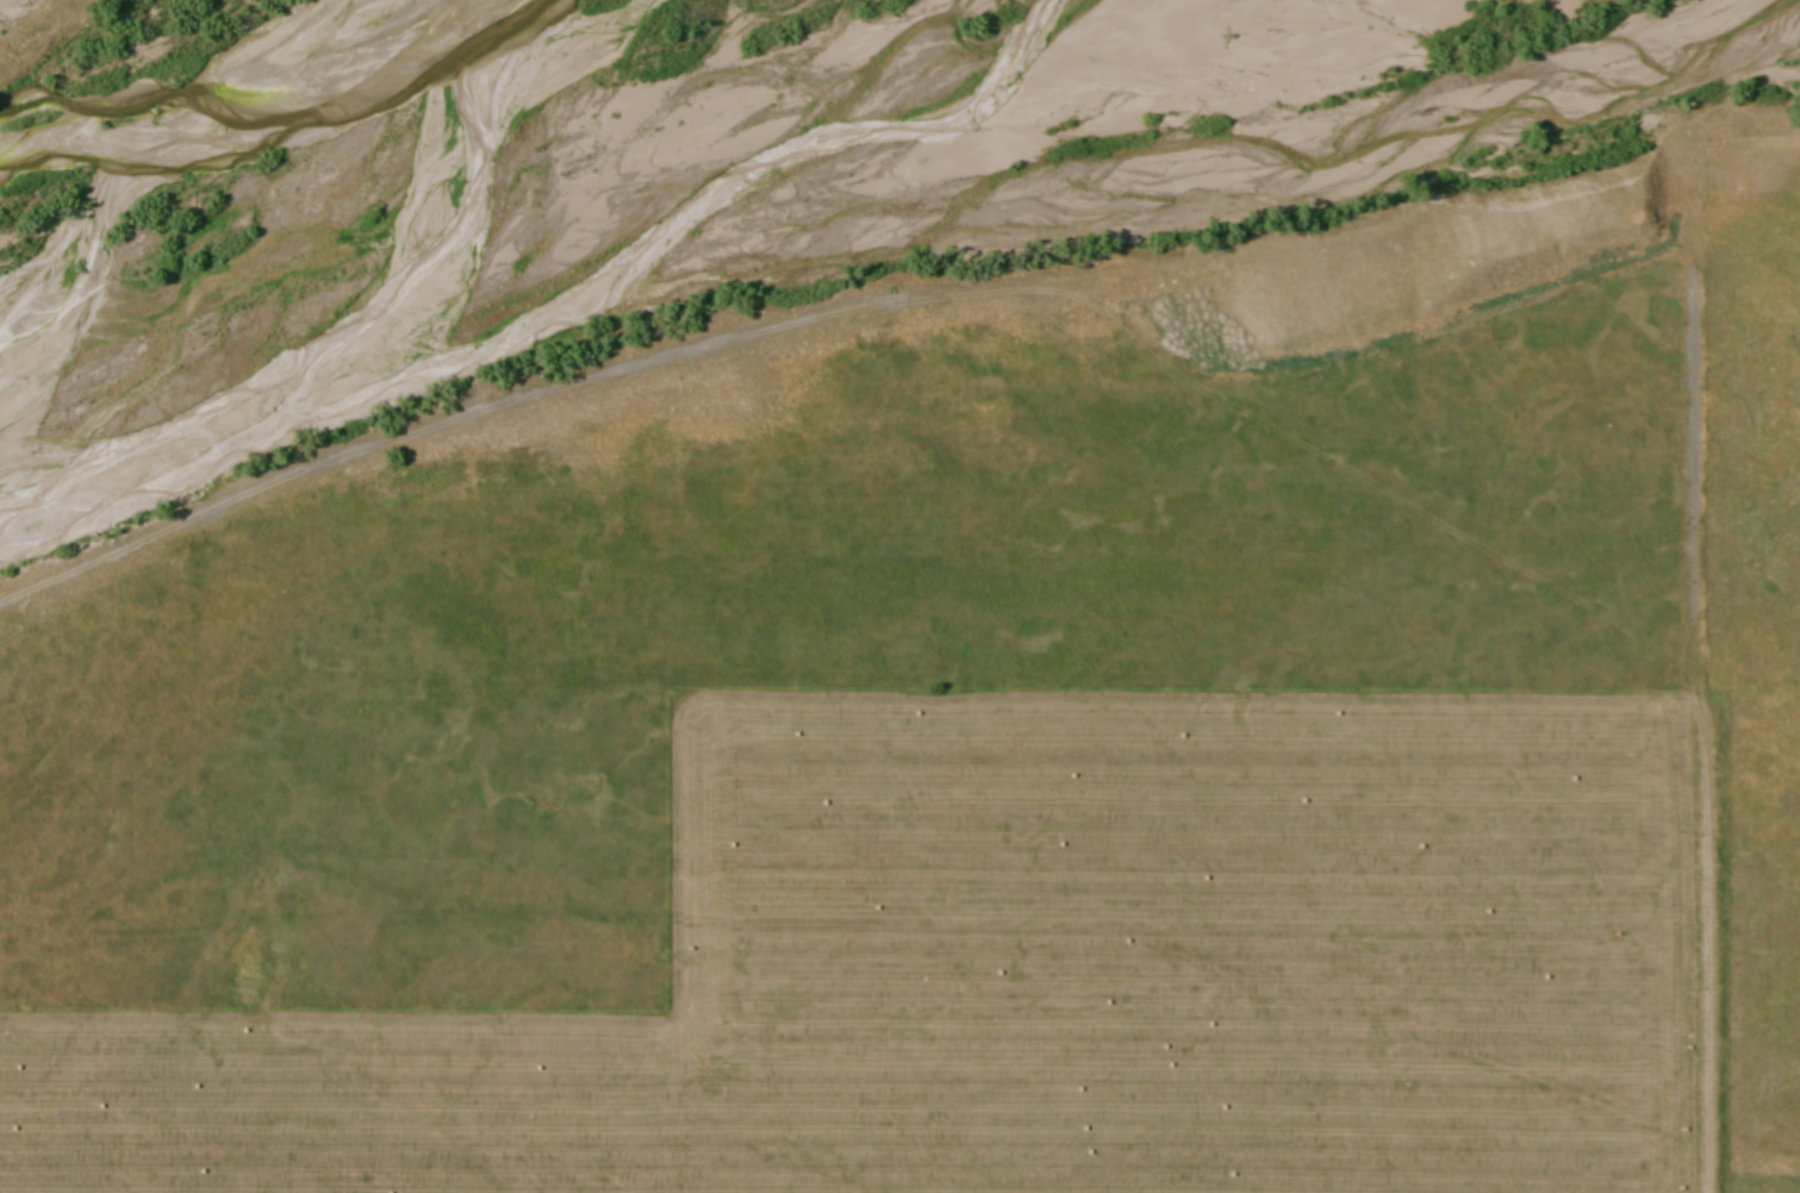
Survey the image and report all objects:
river: (870, 236)

